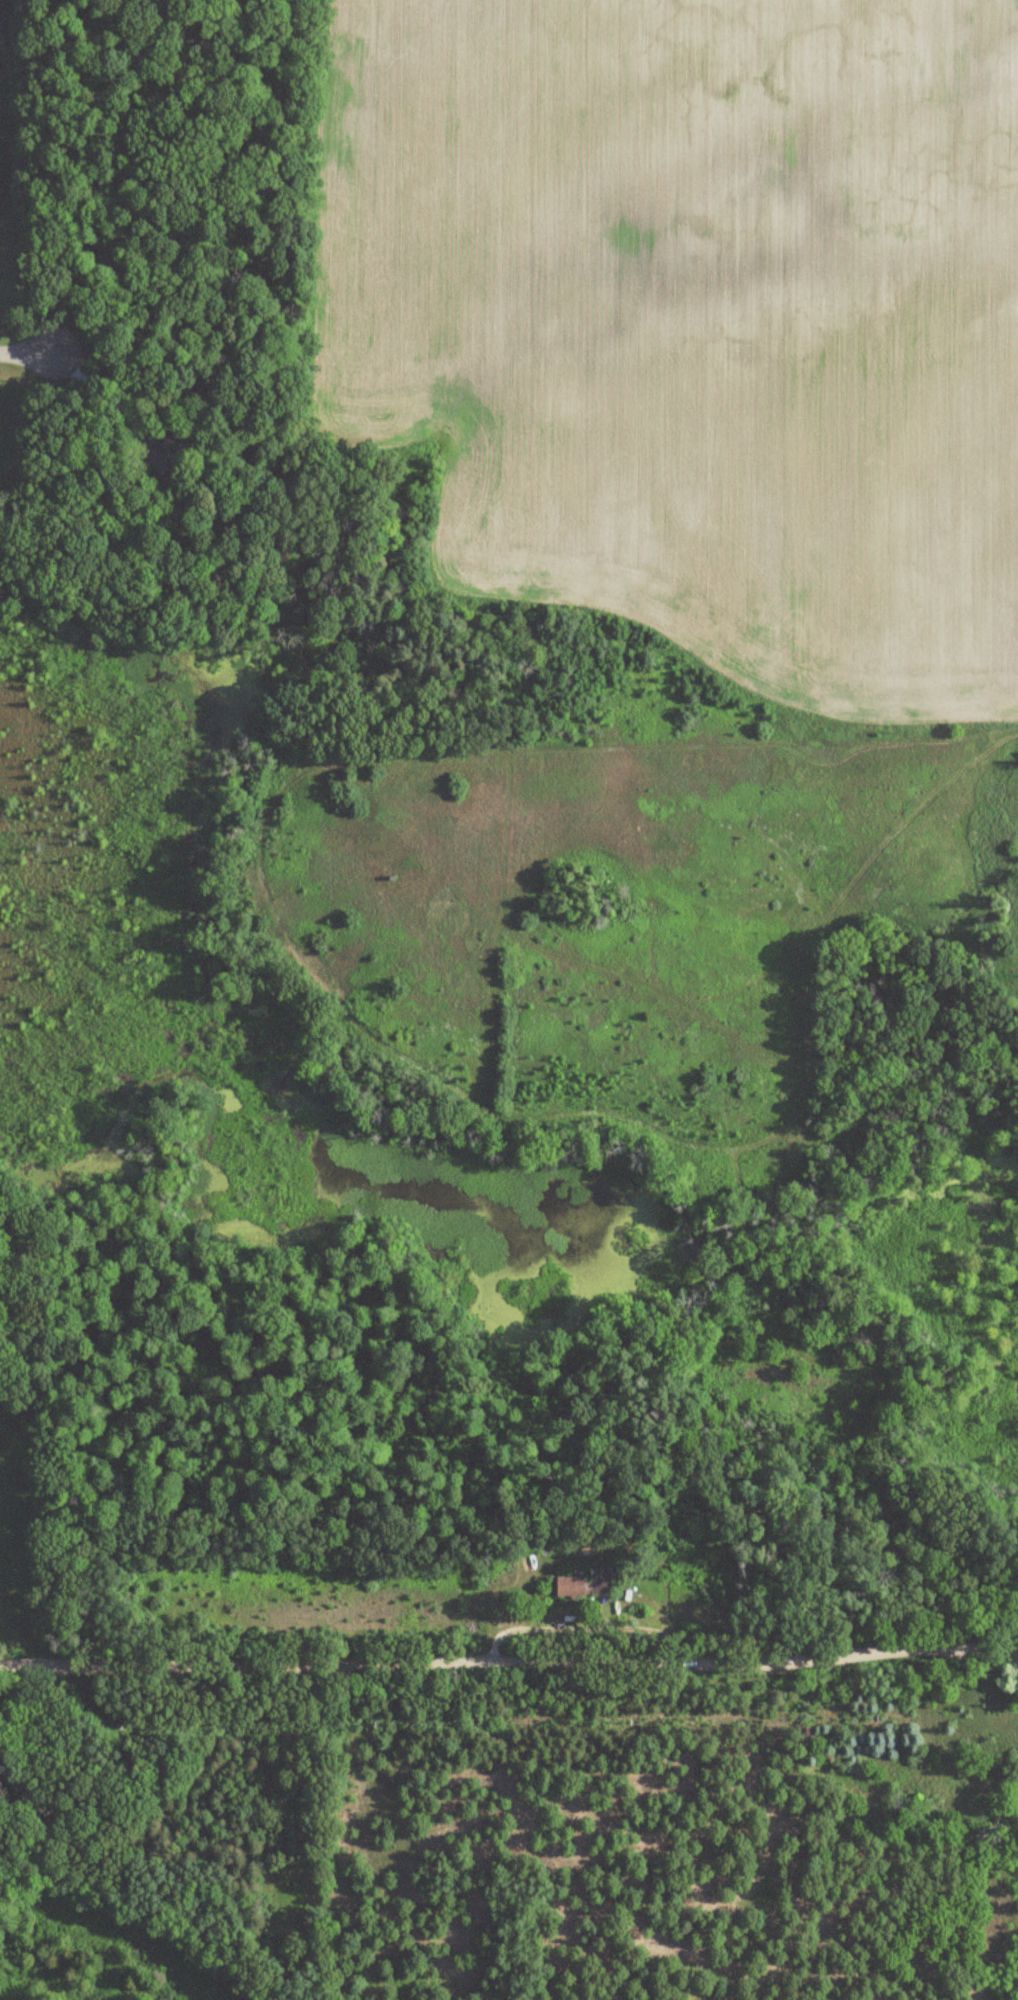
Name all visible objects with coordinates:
road: (25, 353)
building: (604, 1571)
building: (570, 1586)
road: (509, 1663)

